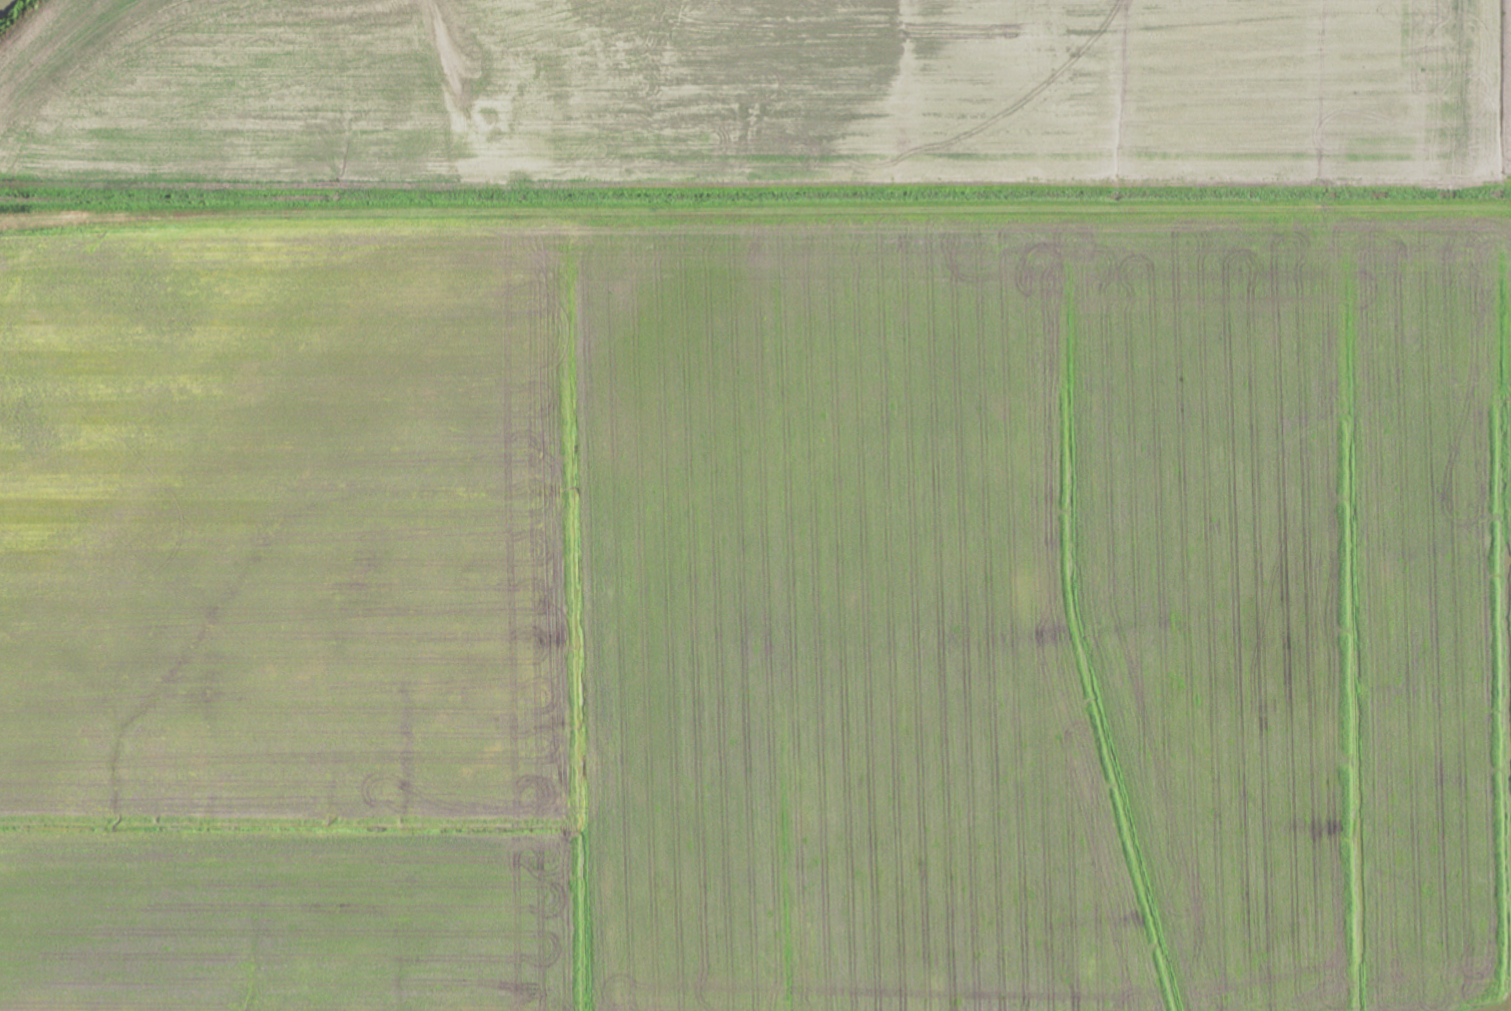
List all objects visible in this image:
river: (0, 0)

